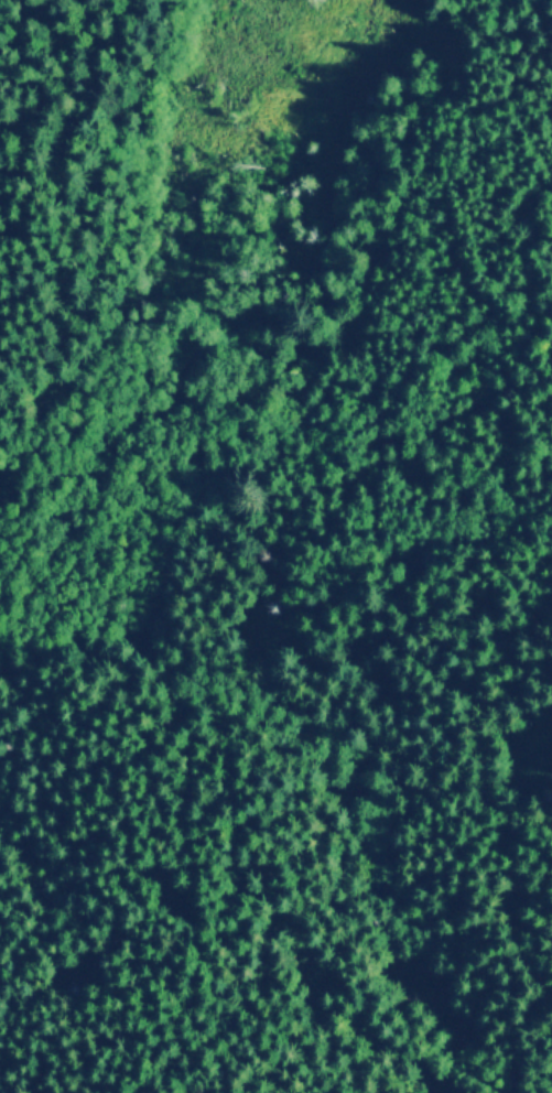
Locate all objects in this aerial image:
road: (538, 32)
road: (59, 212)
road: (326, 269)
road: (97, 366)
park: (275, 546)

